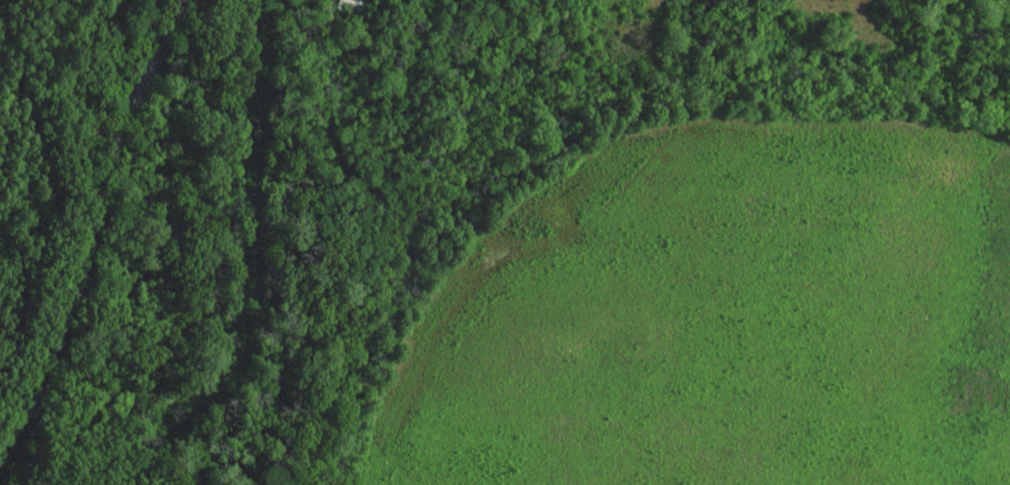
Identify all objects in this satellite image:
road: (189, 1)
road: (88, 231)

